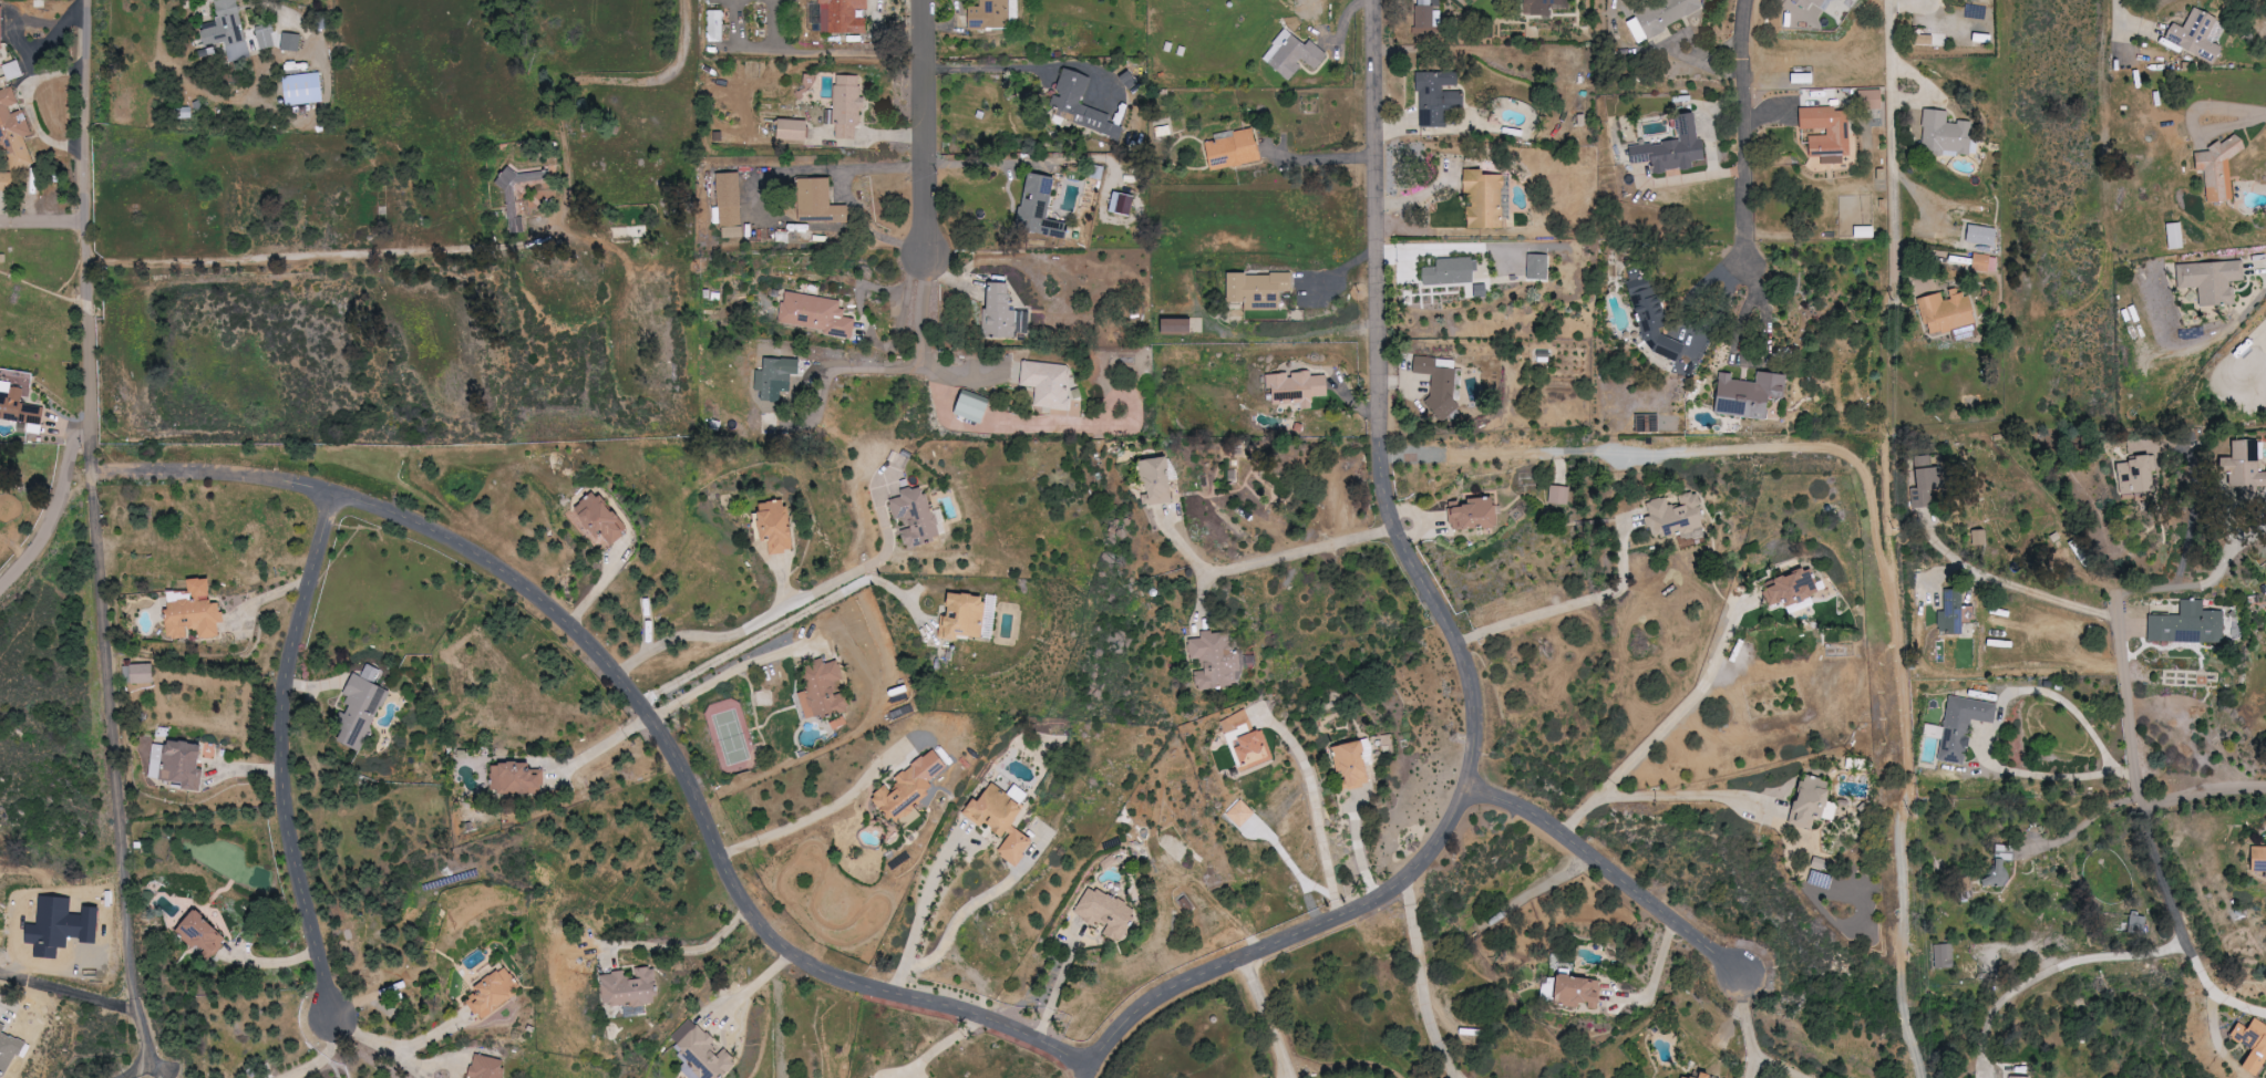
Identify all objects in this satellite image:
building: (1809, 1)
building: (1542, 6)
building: (993, 13)
building: (844, 15)
building: (1658, 17)
building: (1424, 20)
building: (717, 25)
building: (1, 29)
building: (229, 30)
building: (267, 35)
building: (2194, 35)
building: (1978, 38)
road: (2128, 39)
building: (291, 41)
building: (1295, 54)
road: (1021, 68)
building: (1799, 79)
building: (305, 89)
road: (566, 90)
building: (1438, 96)
building: (1868, 100)
building: (848, 105)
road: (29, 106)
road: (2190, 120)
building: (795, 128)
building: (14, 131)
road: (927, 132)
building: (1825, 133)
building: (1669, 148)
building: (1236, 149)
road: (1867, 151)
road: (1320, 159)
road: (982, 162)
building: (2215, 169)
building: (8, 180)
road: (853, 197)
building: (1485, 198)
road: (753, 199)
road: (1734, 200)
building: (820, 201)
building: (730, 205)
building: (1041, 206)
road: (43, 229)
building: (1861, 231)
building: (1979, 236)
building: (2172, 236)
building: (1982, 263)
building: (1538, 266)
road: (361, 267)
building: (1452, 271)
road: (1340, 272)
road: (1477, 278)
building: (2208, 281)
building: (1260, 288)
building: (2128, 309)
road: (87, 312)
building: (1001, 312)
building: (816, 313)
building: (1944, 313)
building: (1654, 315)
building: (1181, 325)
road: (897, 370)
building: (777, 376)
building: (1048, 383)
building: (1440, 383)
building: (1299, 386)
building: (1748, 393)
building: (19, 401)
building: (976, 408)
building: (1648, 422)
road: (1844, 455)
building: (2133, 474)
building: (1160, 481)
building: (1925, 481)
building: (1559, 495)
road: (2196, 497)
building: (917, 514)
building: (1475, 514)
building: (1675, 516)
building: (601, 517)
building: (777, 527)
road: (1304, 550)
road: (2173, 588)
building: (1790, 589)
road: (2048, 598)
road: (1572, 604)
road: (786, 609)
building: (194, 611)
building: (1949, 612)
building: (966, 616)
road: (795, 619)
building: (2186, 624)
road: (1456, 630)
building: (1216, 661)
road: (738, 667)
building: (138, 673)
building: (824, 692)
road: (1690, 703)
building: (361, 707)
road: (648, 707)
road: (2129, 709)
road: (112, 719)
building: (1234, 723)
building: (1961, 725)
road: (1996, 726)
building: (1933, 730)
building: (1256, 748)
road: (281, 755)
building: (178, 763)
building: (1355, 764)
building: (518, 778)
building: (911, 788)
building: (1020, 794)
road: (2205, 795)
building: (1807, 802)
road: (1590, 809)
building: (1243, 813)
road: (817, 817)
road: (1318, 820)
building: (1005, 822)
building: (2257, 859)
building: (1998, 865)
road: (1613, 875)
building: (1108, 912)
road: (919, 919)
road: (2181, 926)
building: (203, 935)
road: (680, 950)
building: (1941, 955)
road: (2053, 971)
road: (1656, 977)
road: (1419, 984)
building: (630, 987)
road: (750, 988)
building: (494, 989)
building: (1573, 991)
road: (95, 998)
road: (1266, 1020)
road: (1749, 1028)
road: (399, 1044)
building: (2249, 1044)
building: (9, 1048)
building: (701, 1053)
road: (321, 1056)
building: (490, 1067)
building: (1698, 1075)
building: (1680, 1077)
building: (2017, 1077)

